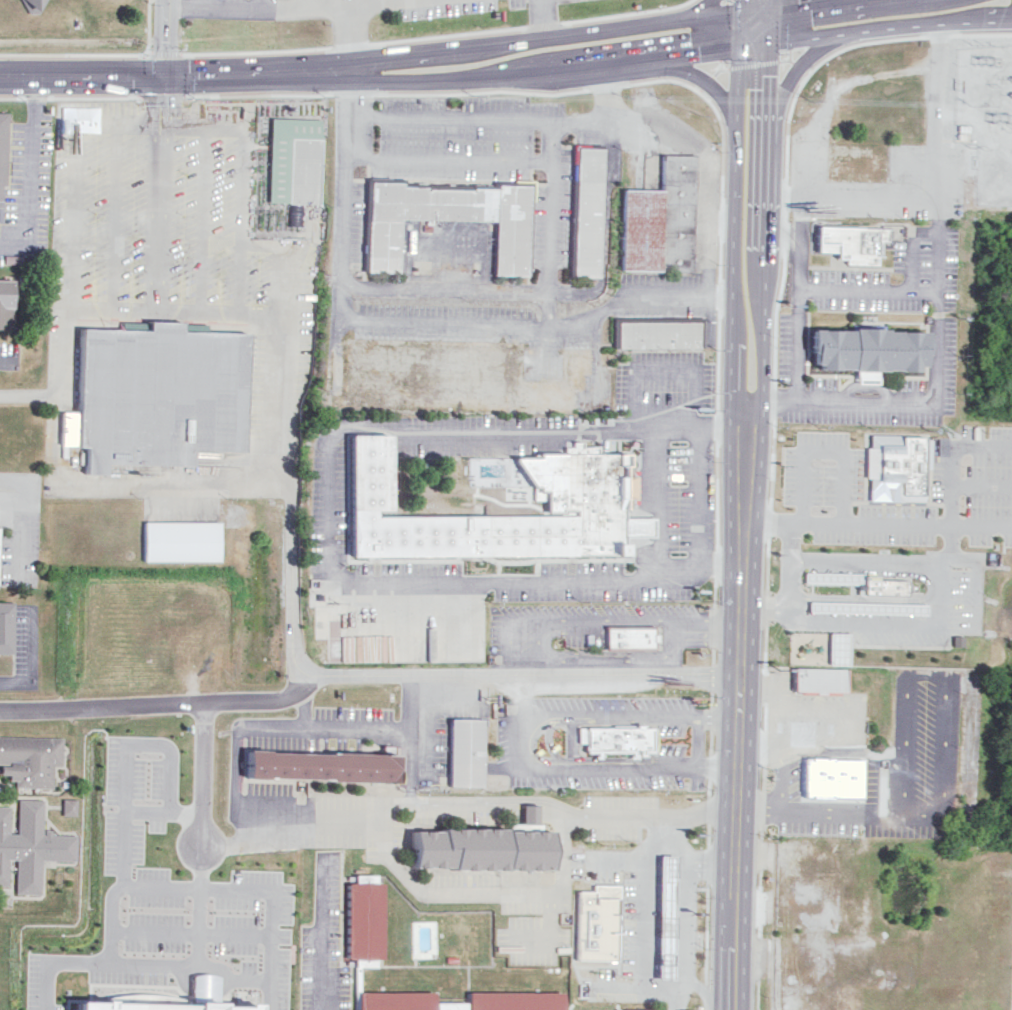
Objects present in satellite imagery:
road: (261, 3)
building: (31, 4)
road: (271, 6)
road: (873, 12)
road: (881, 24)
road: (545, 28)
traffic signals: (751, 34)
road: (349, 38)
road: (165, 39)
road: (376, 71)
traffic signals: (165, 78)
power substation: (981, 113)
road: (494, 119)
road: (361, 133)
road: (702, 147)
building: (1, 157)
road: (445, 157)
building: (293, 163)
road: (338, 198)
building: (585, 213)
building: (444, 222)
building: (658, 222)
road: (550, 225)
building: (849, 241)
building: (9, 258)
road: (65, 267)
road: (440, 288)
road: (868, 289)
road: (797, 291)
building: (4, 301)
road: (937, 306)
road: (544, 329)
building: (658, 336)
building: (863, 347)
road: (7, 361)
road: (292, 388)
building: (156, 395)
building: (894, 469)
building: (579, 504)
road: (329, 505)
road: (741, 505)
road: (764, 539)
building: (180, 543)
road: (711, 543)
road: (19, 581)
building: (862, 591)
building: (5, 626)
park: (446, 627)
building: (629, 638)
road: (509, 643)
road: (537, 645)
building: (836, 647)
road: (364, 675)
building: (816, 679)
road: (522, 697)
building: (795, 712)
road: (519, 740)
building: (616, 740)
road: (925, 745)
building: (464, 752)
building: (29, 759)
building: (315, 765)
road: (204, 775)
building: (827, 780)
building: (67, 805)
road: (126, 810)
road: (456, 813)
road: (828, 813)
building: (28, 846)
building: (478, 852)
road: (136, 886)
gas station: (663, 914)
road: (680, 914)
building: (663, 916)
building: (363, 921)
building: (595, 922)
road: (322, 934)
road: (52, 959)
building: (859, 979)
road: (272, 994)
building: (512, 1003)
building: (143, 1006)
building: (608, 1009)

